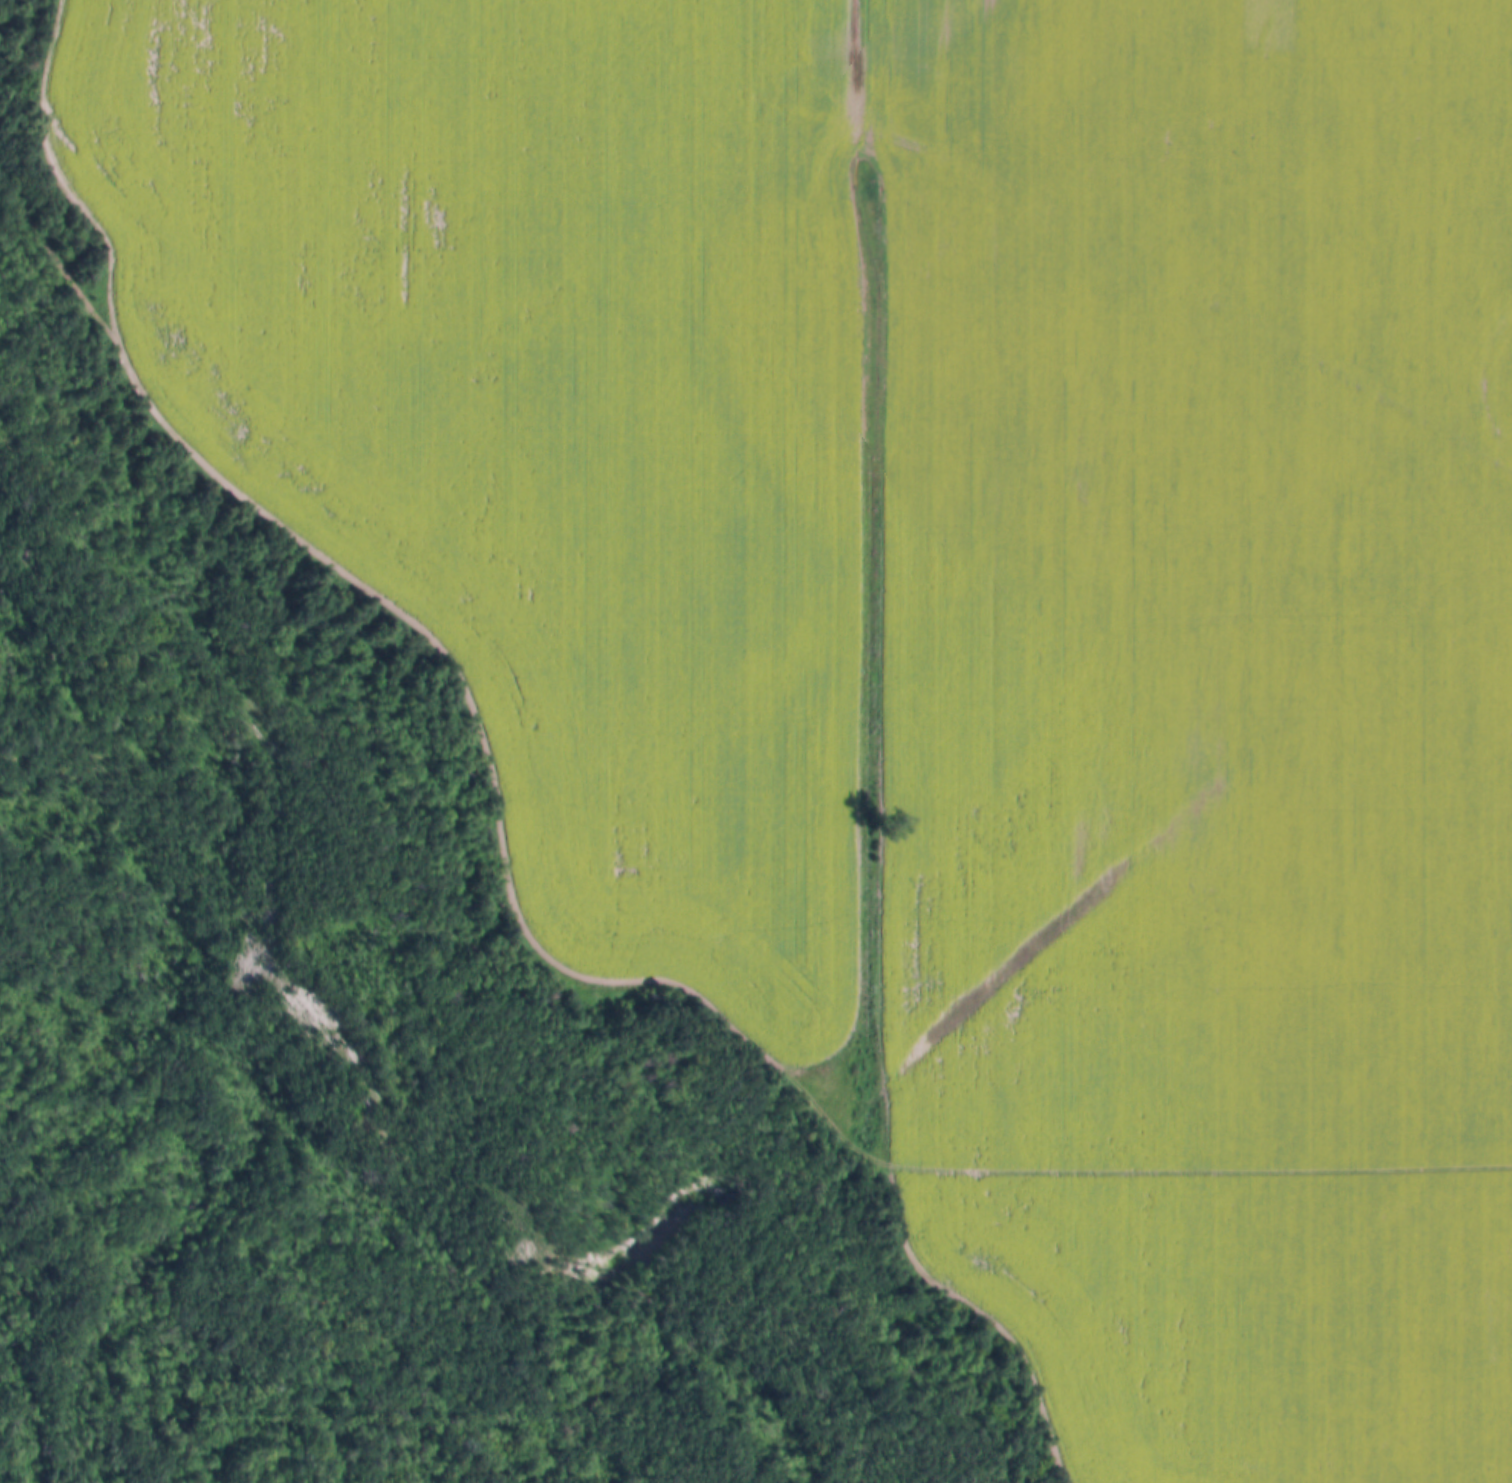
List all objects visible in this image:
road: (525, 909)

